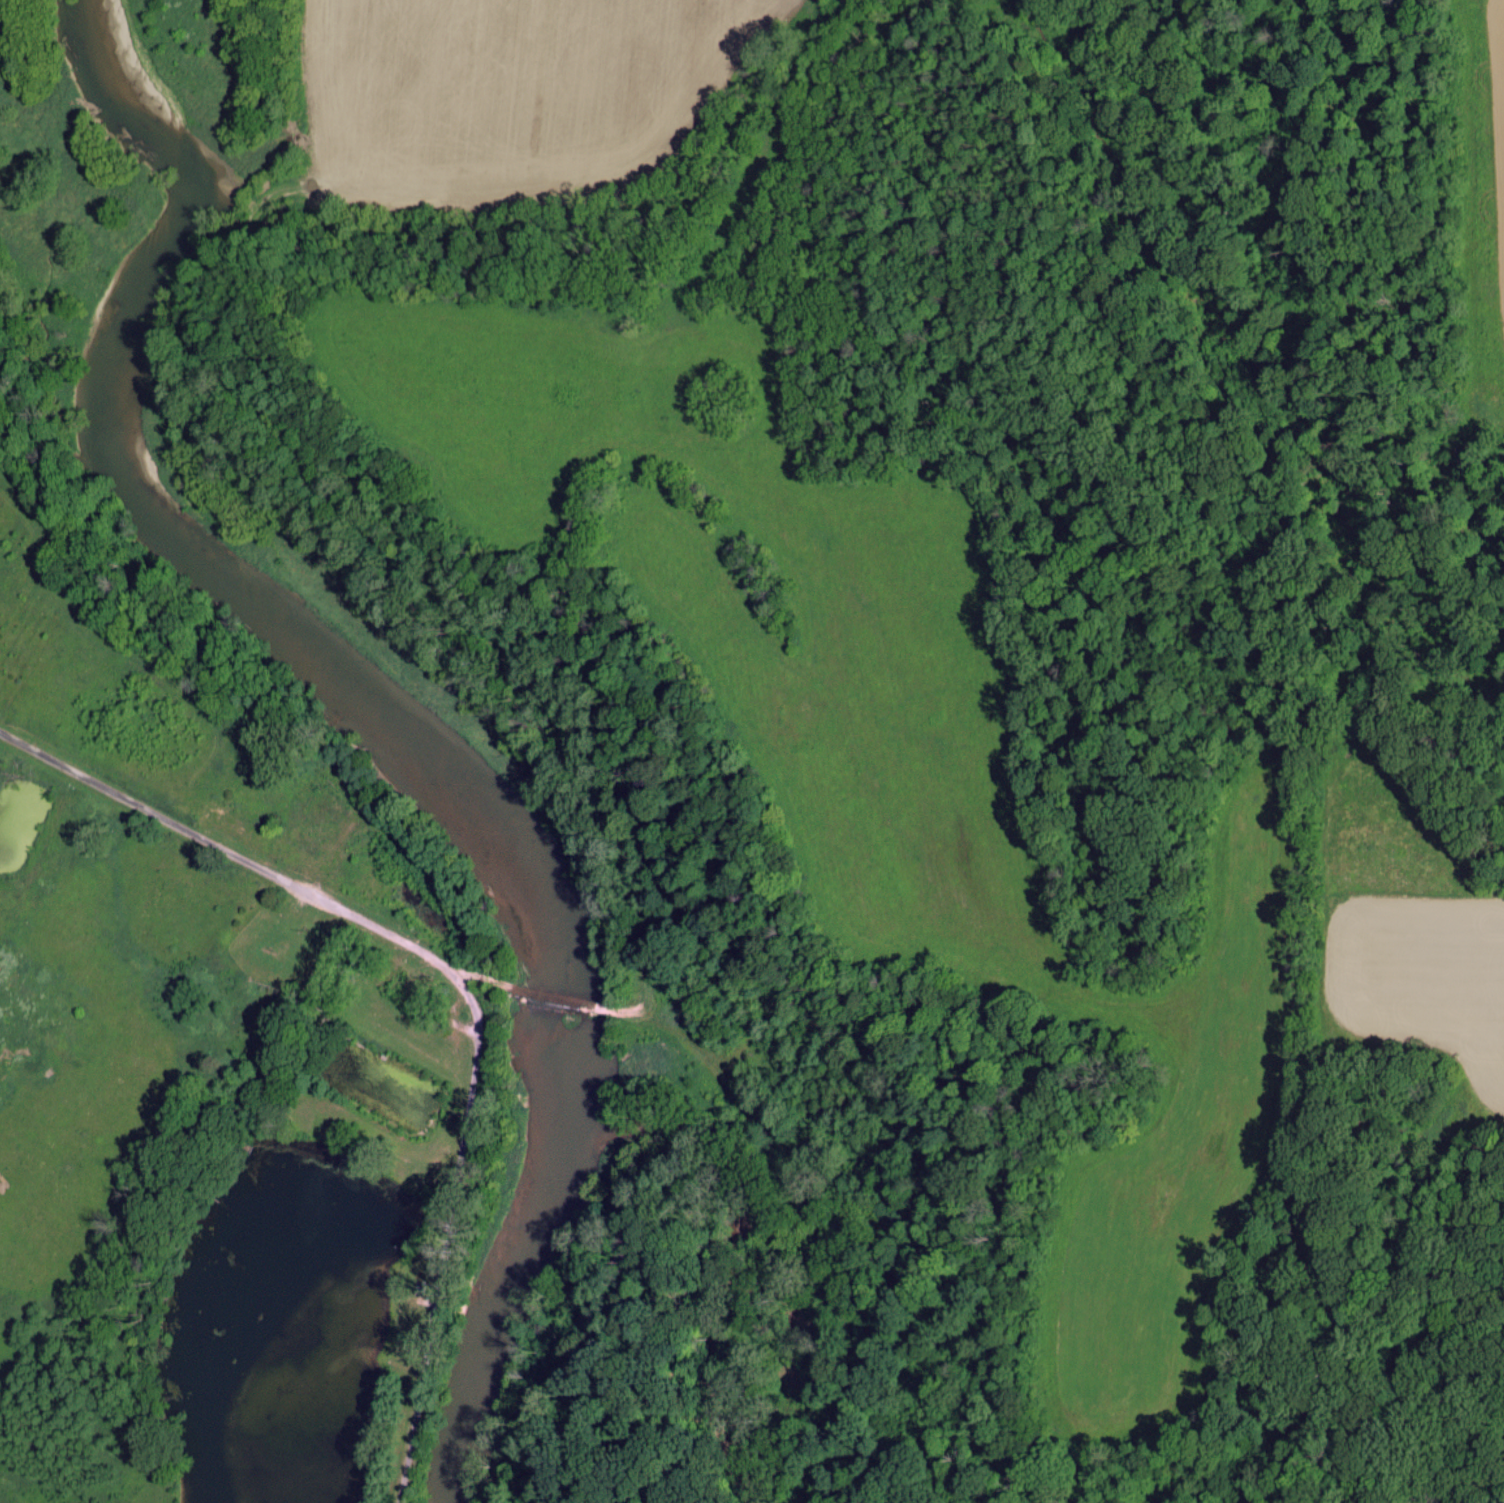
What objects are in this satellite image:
road: (300, 508)
river: (388, 713)
road: (459, 985)

